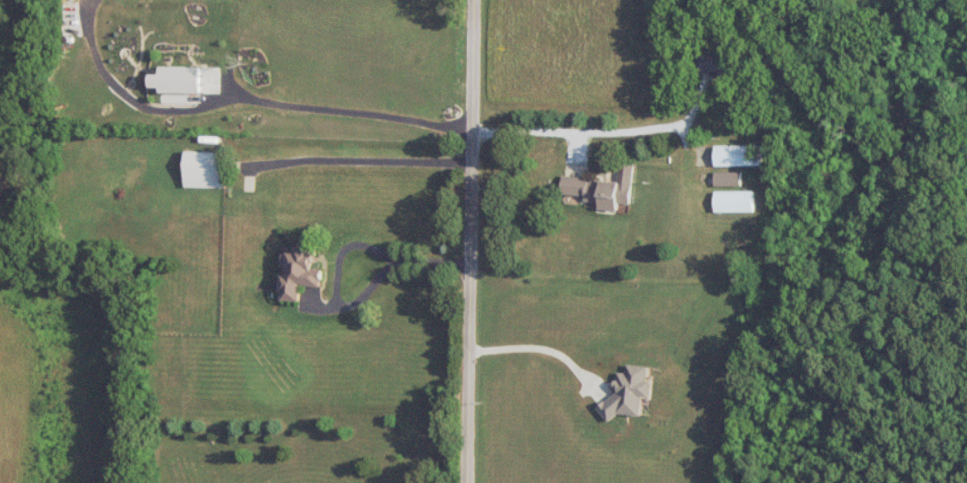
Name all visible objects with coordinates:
building: (717, 62)
building: (179, 79)
road: (243, 100)
road: (595, 131)
building: (738, 155)
road: (353, 160)
building: (206, 169)
building: (728, 178)
building: (603, 188)
building: (735, 201)
road: (470, 241)
road: (431, 263)
building: (300, 271)
road: (334, 287)
road: (536, 345)

